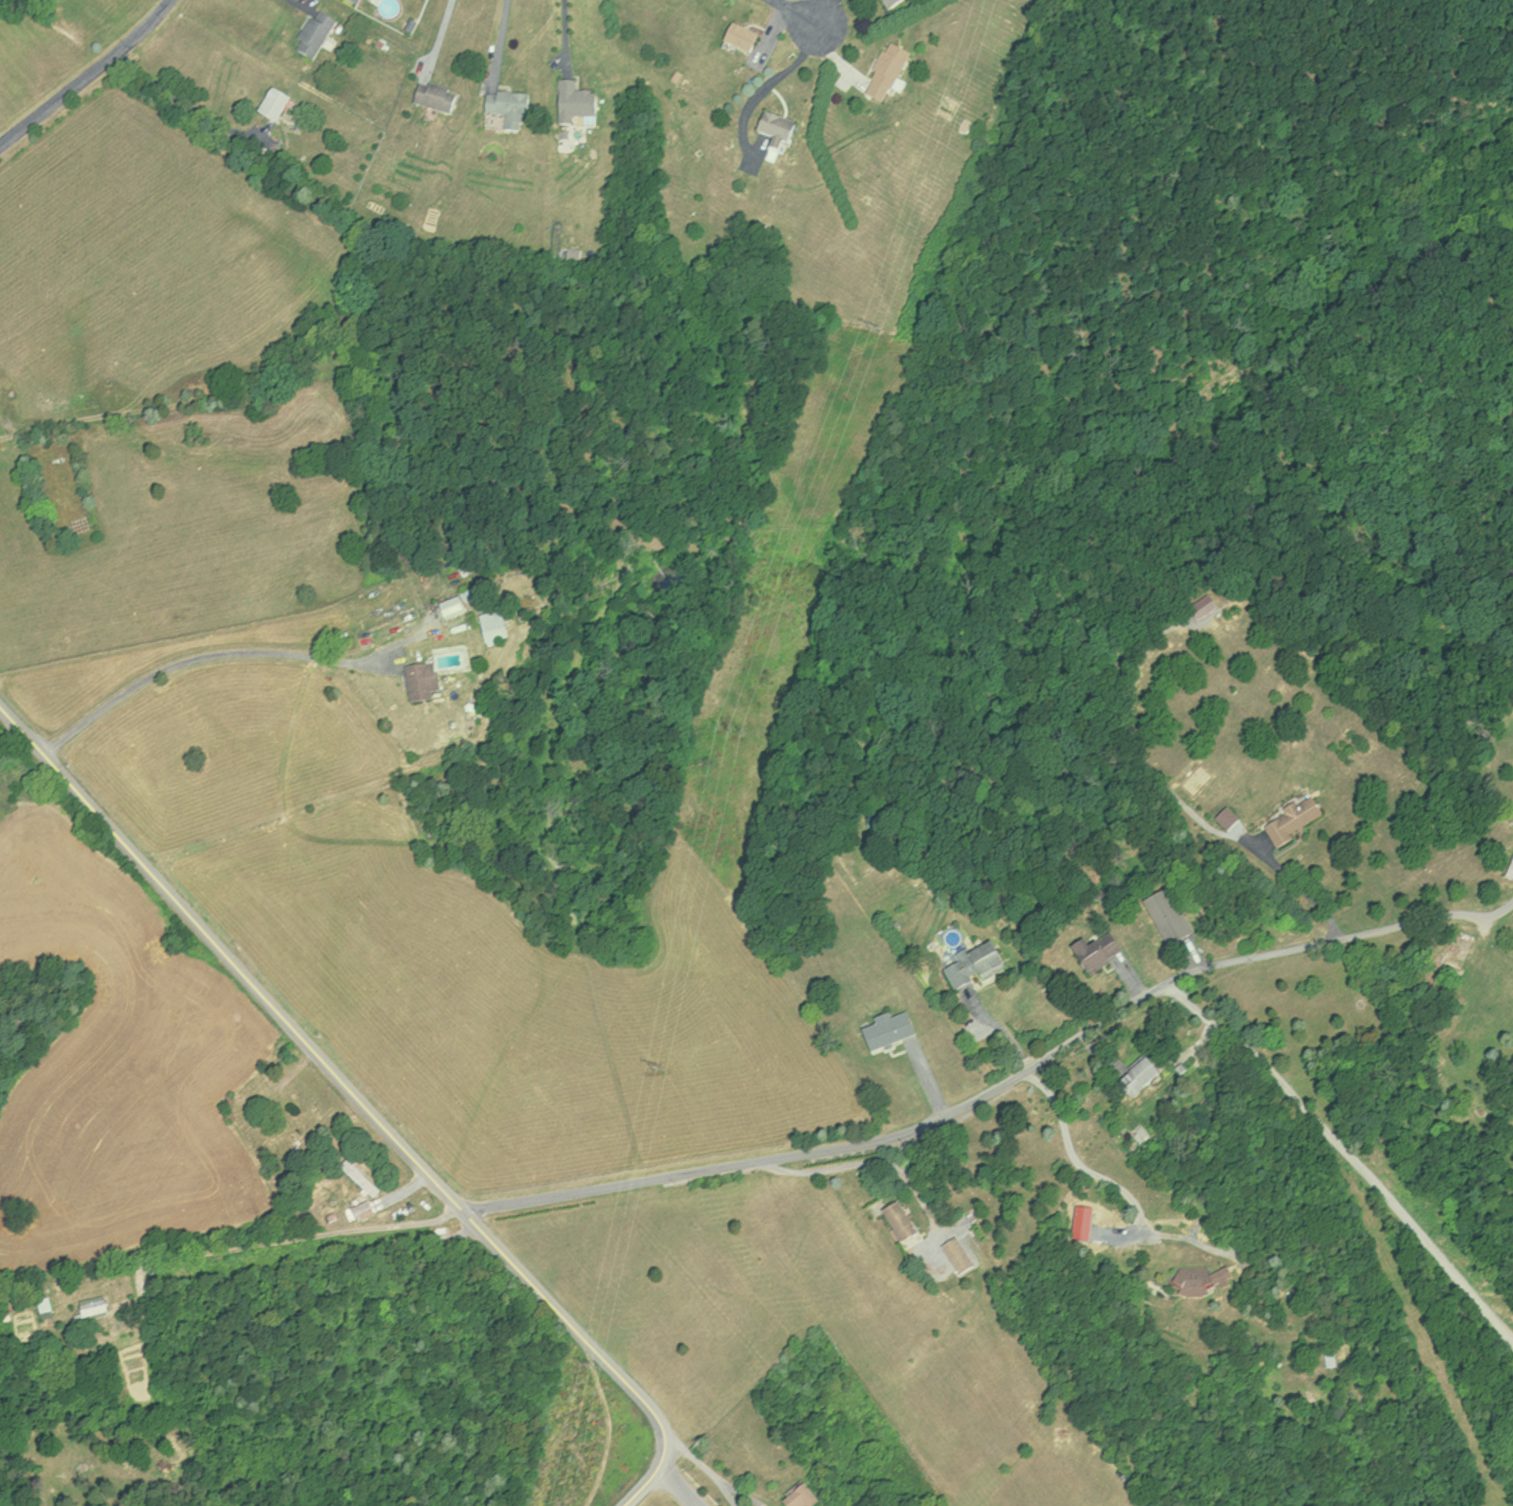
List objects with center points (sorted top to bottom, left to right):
road: (298, 6)
road: (799, 13)
road: (439, 34)
road: (569, 38)
road: (502, 41)
road: (87, 75)
road: (187, 101)
power tower: (875, 330)
road: (203, 653)
power tower: (732, 733)
road: (1179, 799)
road: (231, 957)
road: (999, 1030)
power tower: (660, 1074)
road: (998, 1086)
road: (1351, 1152)
road: (1078, 1156)
road: (874, 1160)
road: (277, 1236)
road: (581, 1332)
road: (700, 1459)
road: (643, 1488)
road: (680, 1488)
road: (749, 1495)
road: (734, 1496)

